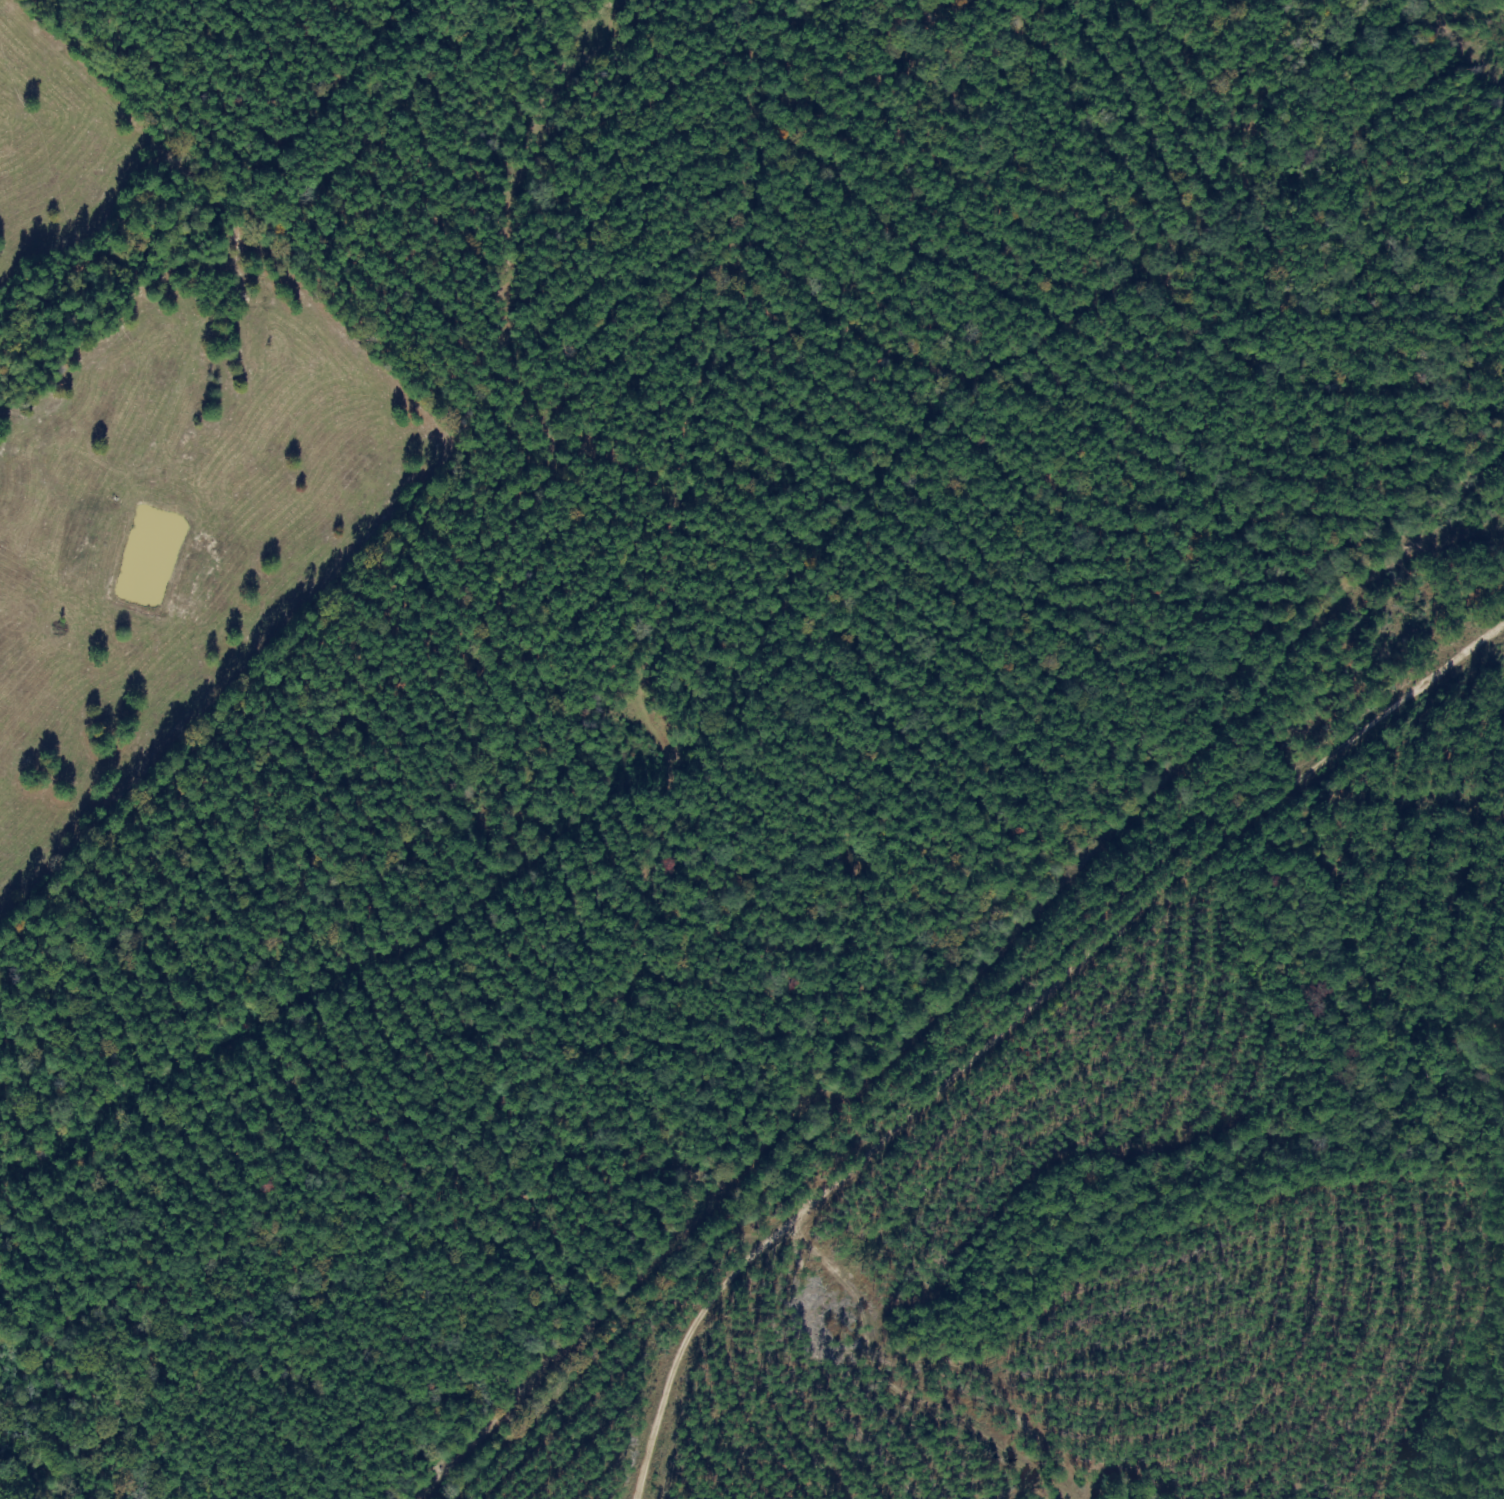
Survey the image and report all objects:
road: (1040, 1033)

